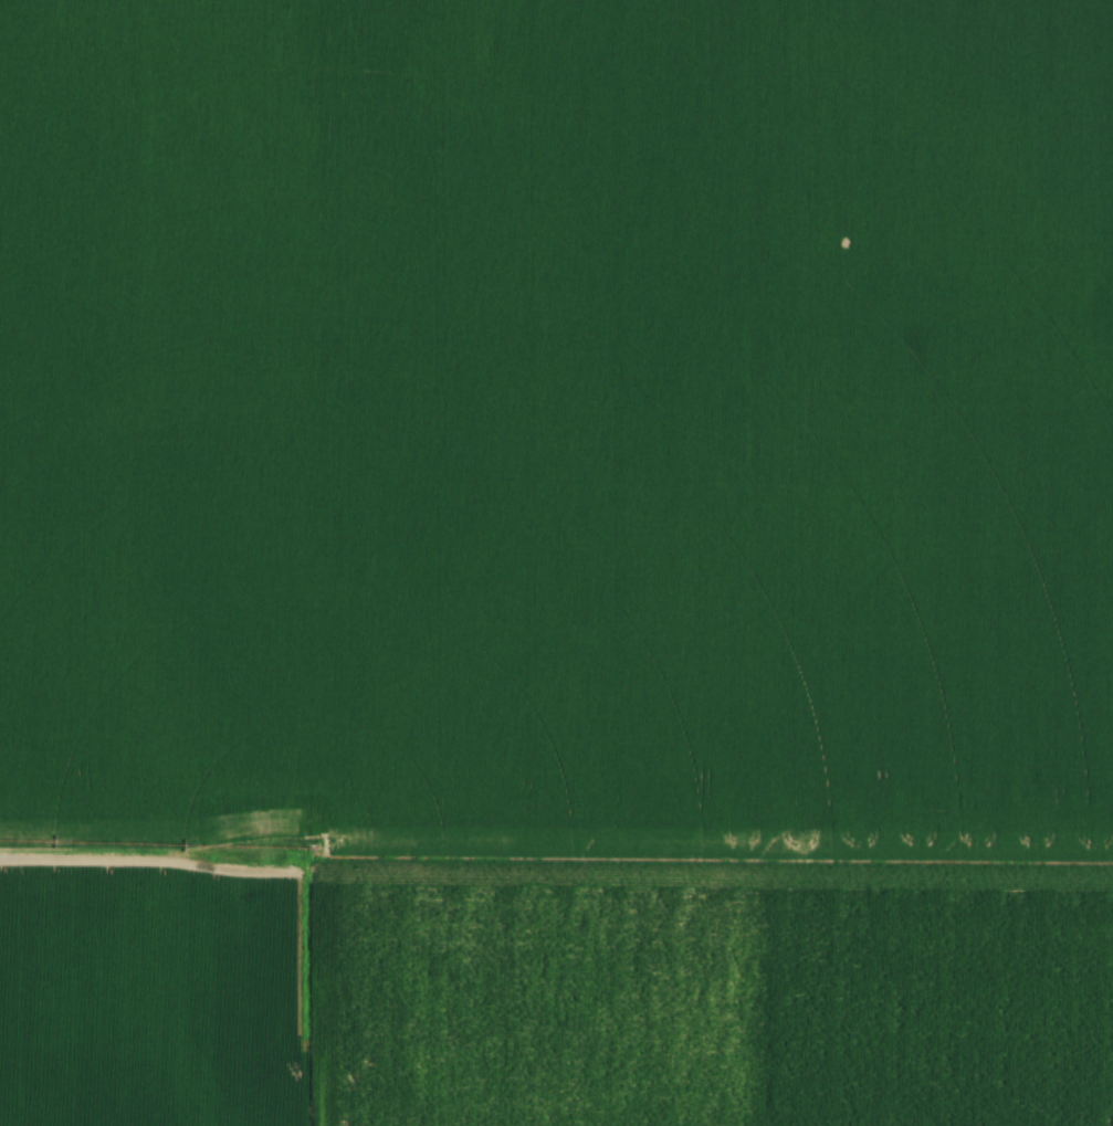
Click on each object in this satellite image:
crop: (150, 997)

